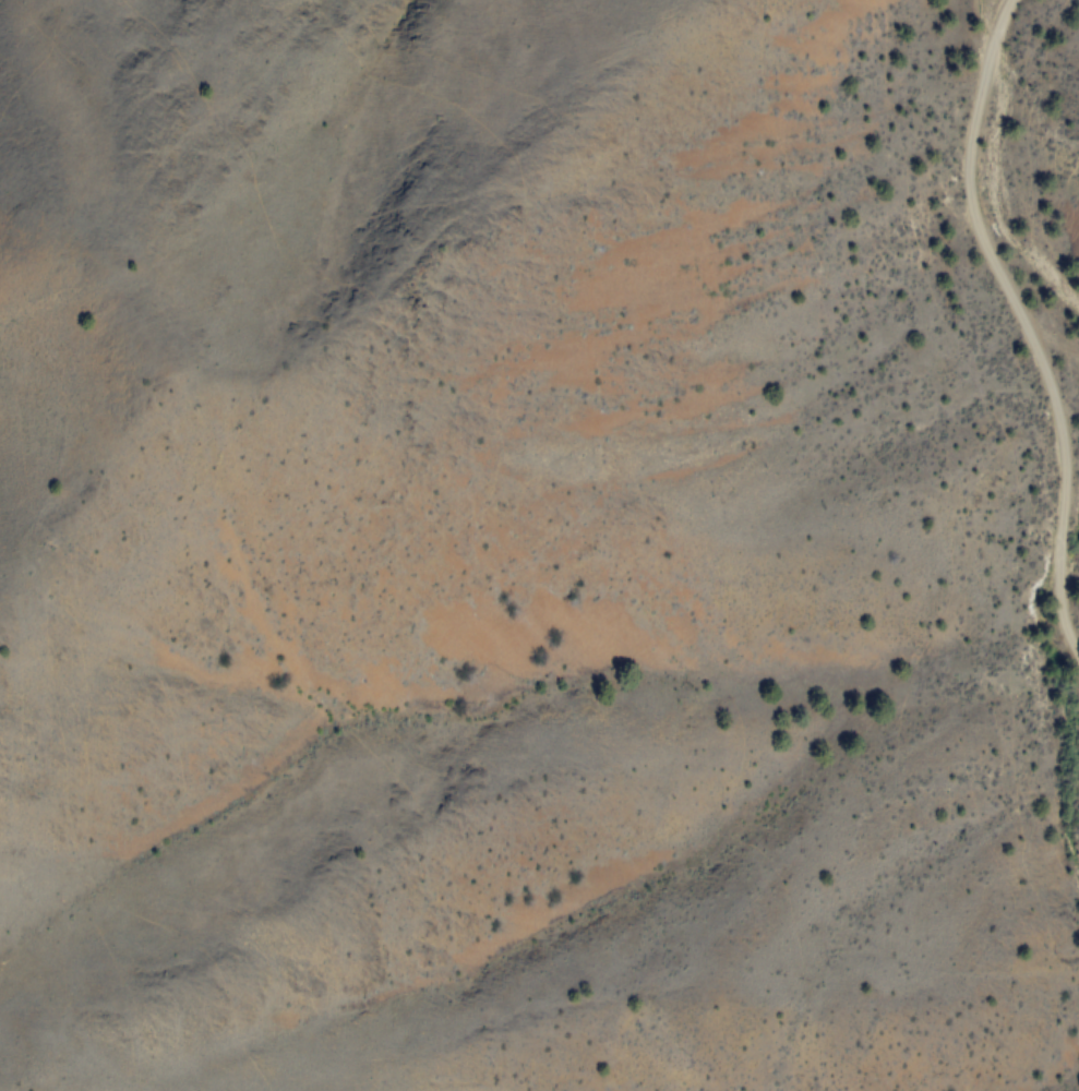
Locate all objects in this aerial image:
road: (1026, 324)

